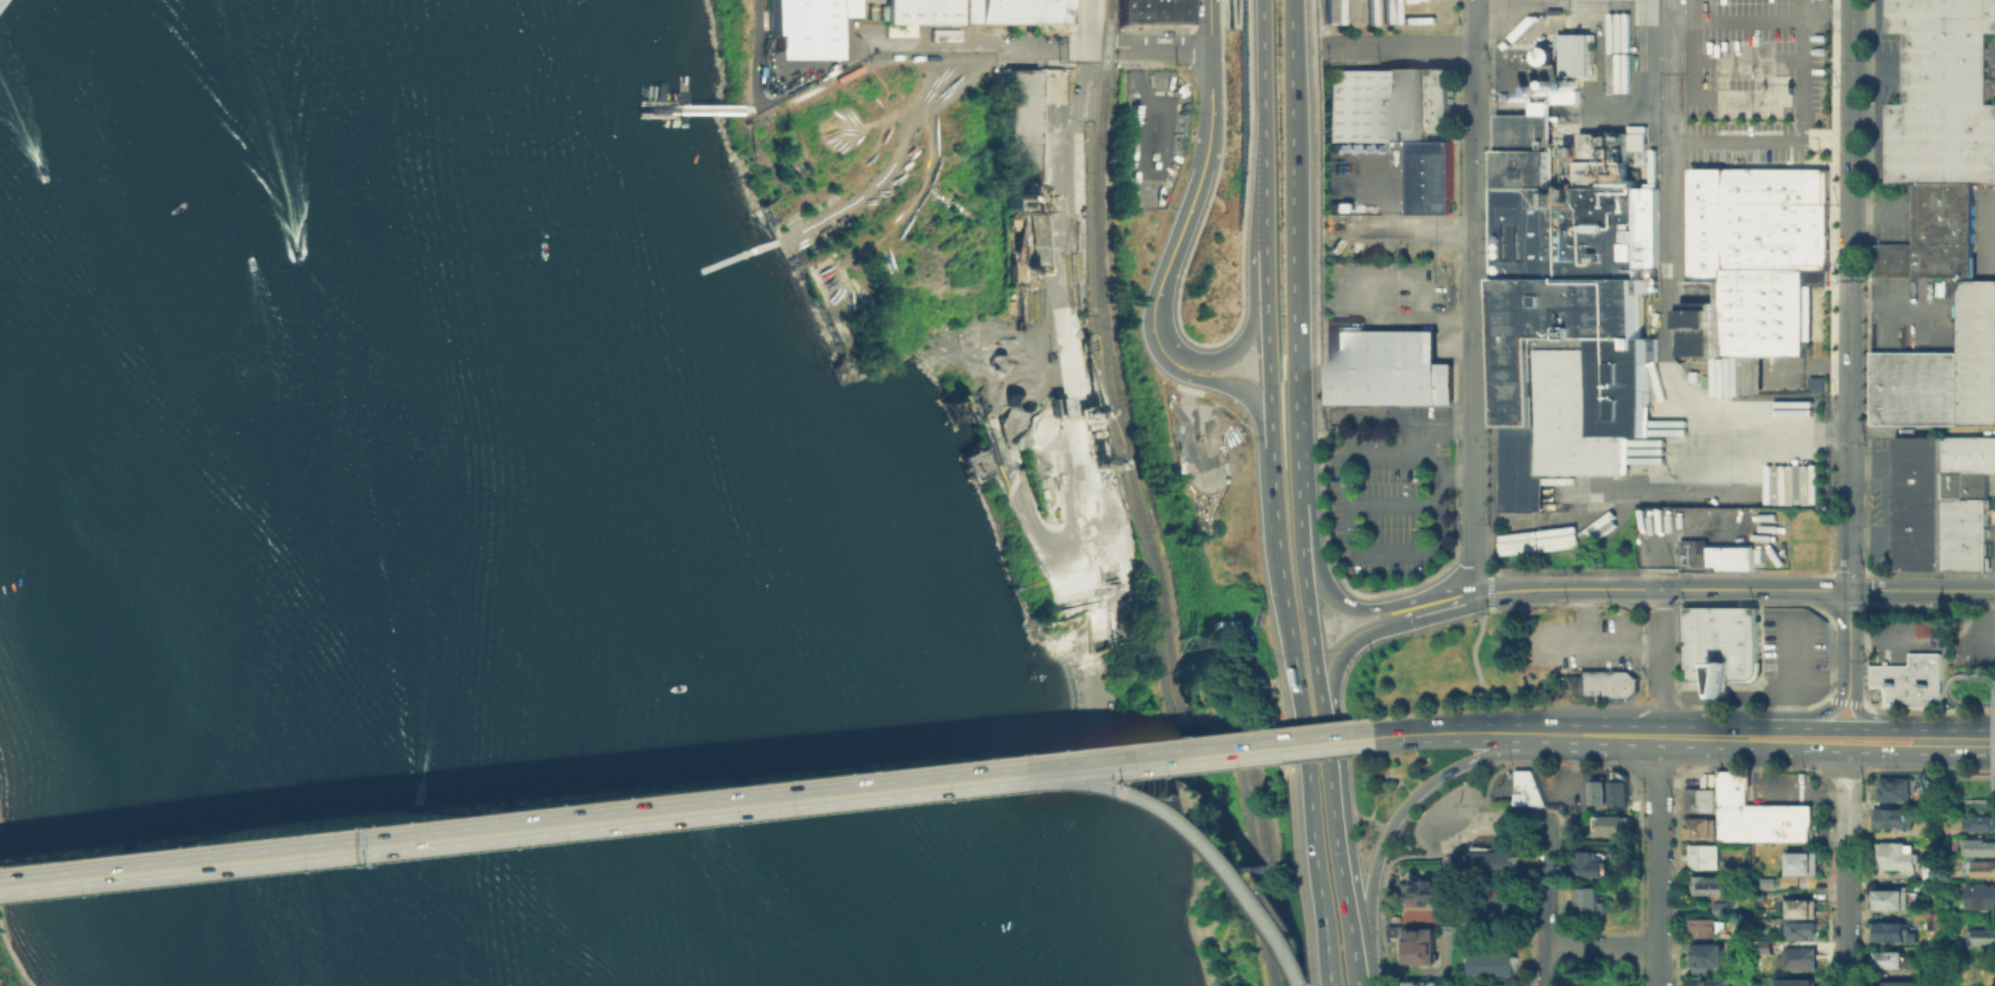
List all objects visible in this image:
road: (1611, 3)
building: (920, 10)
building: (1011, 10)
building: (1127, 13)
building: (1147, 13)
building: (1164, 13)
building: (1181, 13)
road: (1316, 20)
road: (1211, 21)
road: (1474, 23)
road: (1325, 24)
road: (1237, 25)
building: (806, 27)
road: (1403, 27)
building: (897, 29)
road: (1168, 29)
road: (1216, 30)
road: (1083, 35)
road: (1043, 44)
road: (1148, 44)
road: (1400, 47)
road: (1801, 47)
road: (753, 52)
road: (1004, 52)
building: (1581, 53)
building: (1549, 54)
power tower: (1869, 58)
road: (825, 68)
road: (1474, 77)
building: (1560, 83)
building: (1573, 84)
building: (1547, 89)
building: (1537, 90)
building: (1942, 93)
building: (1527, 96)
building: (1444, 100)
railway: (1663, 100)
building: (1407, 104)
building: (1357, 105)
pier: (684, 106)
road: (1504, 107)
road: (1545, 107)
road: (1262, 108)
road: (1246, 115)
road: (1672, 130)
building: (1019, 137)
road: (1794, 138)
road: (865, 154)
road: (895, 160)
road: (1293, 165)
building: (1433, 176)
railway: (1681, 177)
chimney: (1631, 181)
road: (919, 189)
road: (1185, 209)
road: (1313, 214)
road: (1259, 224)
road: (1407, 232)
building: (1935, 234)
road: (1194, 244)
road: (740, 254)
building: (1759, 259)
power tower: (1867, 277)
road: (1850, 294)
building: (1573, 303)
road: (1250, 321)
road: (1268, 347)
road: (1866, 350)
road: (1474, 352)
building: (1979, 352)
road: (1663, 353)
building: (1390, 368)
building: (1748, 373)
road: (1297, 381)
building: (1919, 388)
road: (1076, 398)
road: (1250, 399)
building: (1055, 405)
power tower: (1865, 441)
road: (1428, 448)
road: (1299, 450)
road: (1318, 450)
building: (1968, 466)
river: (411, 475)
road: (1127, 500)
railway: (1138, 502)
building: (1920, 502)
road: (1273, 505)
road: (1705, 528)
building: (1966, 533)
building: (1717, 555)
road: (1277, 561)
road: (1661, 570)
power tower: (1678, 571)
power tower: (1866, 572)
road: (1489, 583)
road: (1661, 589)
road: (1922, 590)
road: (1360, 594)
road: (1337, 602)
road: (1878, 604)
road: (1306, 606)
road: (1446, 614)
road: (1587, 615)
road: (1663, 615)
road: (1407, 634)
road: (1849, 635)
road: (1363, 637)
road: (1885, 637)
road: (1600, 641)
building: (1719, 643)
road: (1792, 646)
road: (1472, 658)
road: (1287, 666)
road: (1663, 668)
road: (1956, 676)
road: (1994, 679)
building: (1910, 680)
building: (1600, 683)
road: (1787, 688)
road: (1689, 696)
road: (1719, 696)
road: (1979, 701)
road: (1845, 702)
road: (1511, 704)
road: (1669, 706)
road: (1757, 707)
road: (1929, 709)
road: (1671, 716)
road: (1799, 716)
road: (1878, 717)
road: (1833, 728)
road: (1992, 729)
road: (1959, 730)
road: (1992, 730)
road: (1464, 732)
road: (1723, 732)
road: (1590, 734)
road: (1641, 735)
road: (1670, 736)
road: (1696, 736)
road: (1190, 739)
road: (1851, 752)
road: (1193, 757)
road: (1543, 765)
road: (1650, 767)
road: (1746, 767)
road: (1839, 769)
road: (1928, 769)
road: (1978, 776)
road: (1349, 787)
building: (1622, 788)
building: (1530, 791)
building: (1601, 791)
building: (1899, 792)
road: (1416, 795)
road: (1994, 797)
building: (1704, 800)
road: (1957, 800)
road: (788, 802)
power tower: (1676, 802)
building: (1732, 804)
road: (1342, 806)
road: (505, 814)
road: (1478, 816)
building: (1892, 817)
road: (1494, 820)
building: (1802, 820)
building: (1754, 821)
building: (1778, 821)
building: (1981, 825)
building: (1615, 827)
building: (1701, 829)
road: (1197, 831)
building: (1982, 850)
road: (1436, 853)
road: (280, 858)
building: (1706, 858)
building: (1899, 858)
road: (1658, 860)
building: (1498, 862)
road: (1338, 864)
road: (1316, 865)
building: (1803, 865)
building: (1594, 866)
road: (1847, 869)
building: (1982, 870)
building: (1936, 872)
road: (1863, 877)
building: (1770, 884)
building: (1712, 888)
building: (1431, 890)
building: (1767, 898)
building: (1983, 898)
building: (1892, 900)
road: (1551, 905)
building: (1592, 905)
road: (1500, 907)
building: (1802, 910)
building: (1725, 911)
road: (1382, 917)
building: (1704, 928)
building: (1800, 931)
building: (1895, 934)
building: (1983, 938)
building: (1422, 945)
building: (1762, 945)
road: (1605, 946)
road: (1266, 949)
building: (1711, 955)
building: (1804, 958)
building: (1893, 960)
road: (1371, 961)
building: (1500, 962)
building: (1422, 982)
building: (1708, 982)
building: (1794, 982)
building: (1506, 984)
building: (1904, 985)

